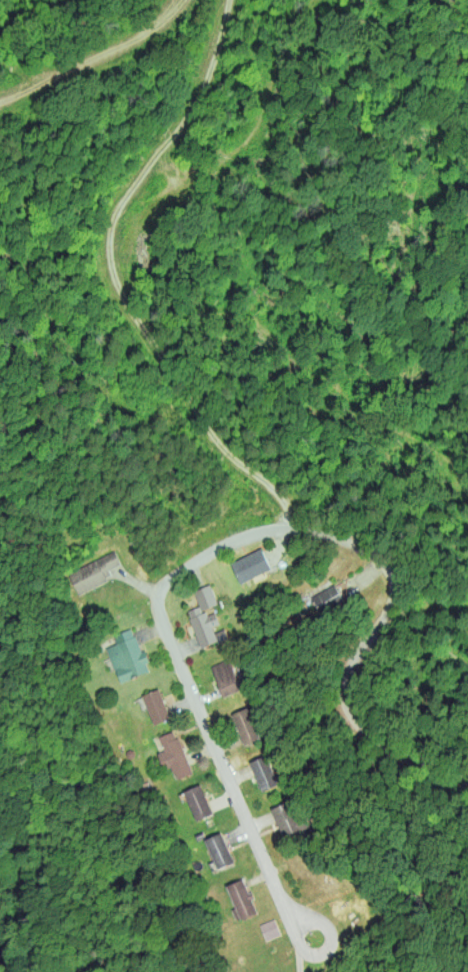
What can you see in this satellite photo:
building: (250, 565)
building: (94, 572)
road: (391, 583)
building: (205, 597)
building: (328, 599)
building: (206, 627)
building: (127, 655)
building: (226, 677)
building: (156, 706)
building: (245, 725)
building: (174, 754)
building: (264, 772)
building: (198, 802)
building: (290, 818)
road: (247, 828)
building: (219, 850)
building: (242, 899)
building: (270, 929)

